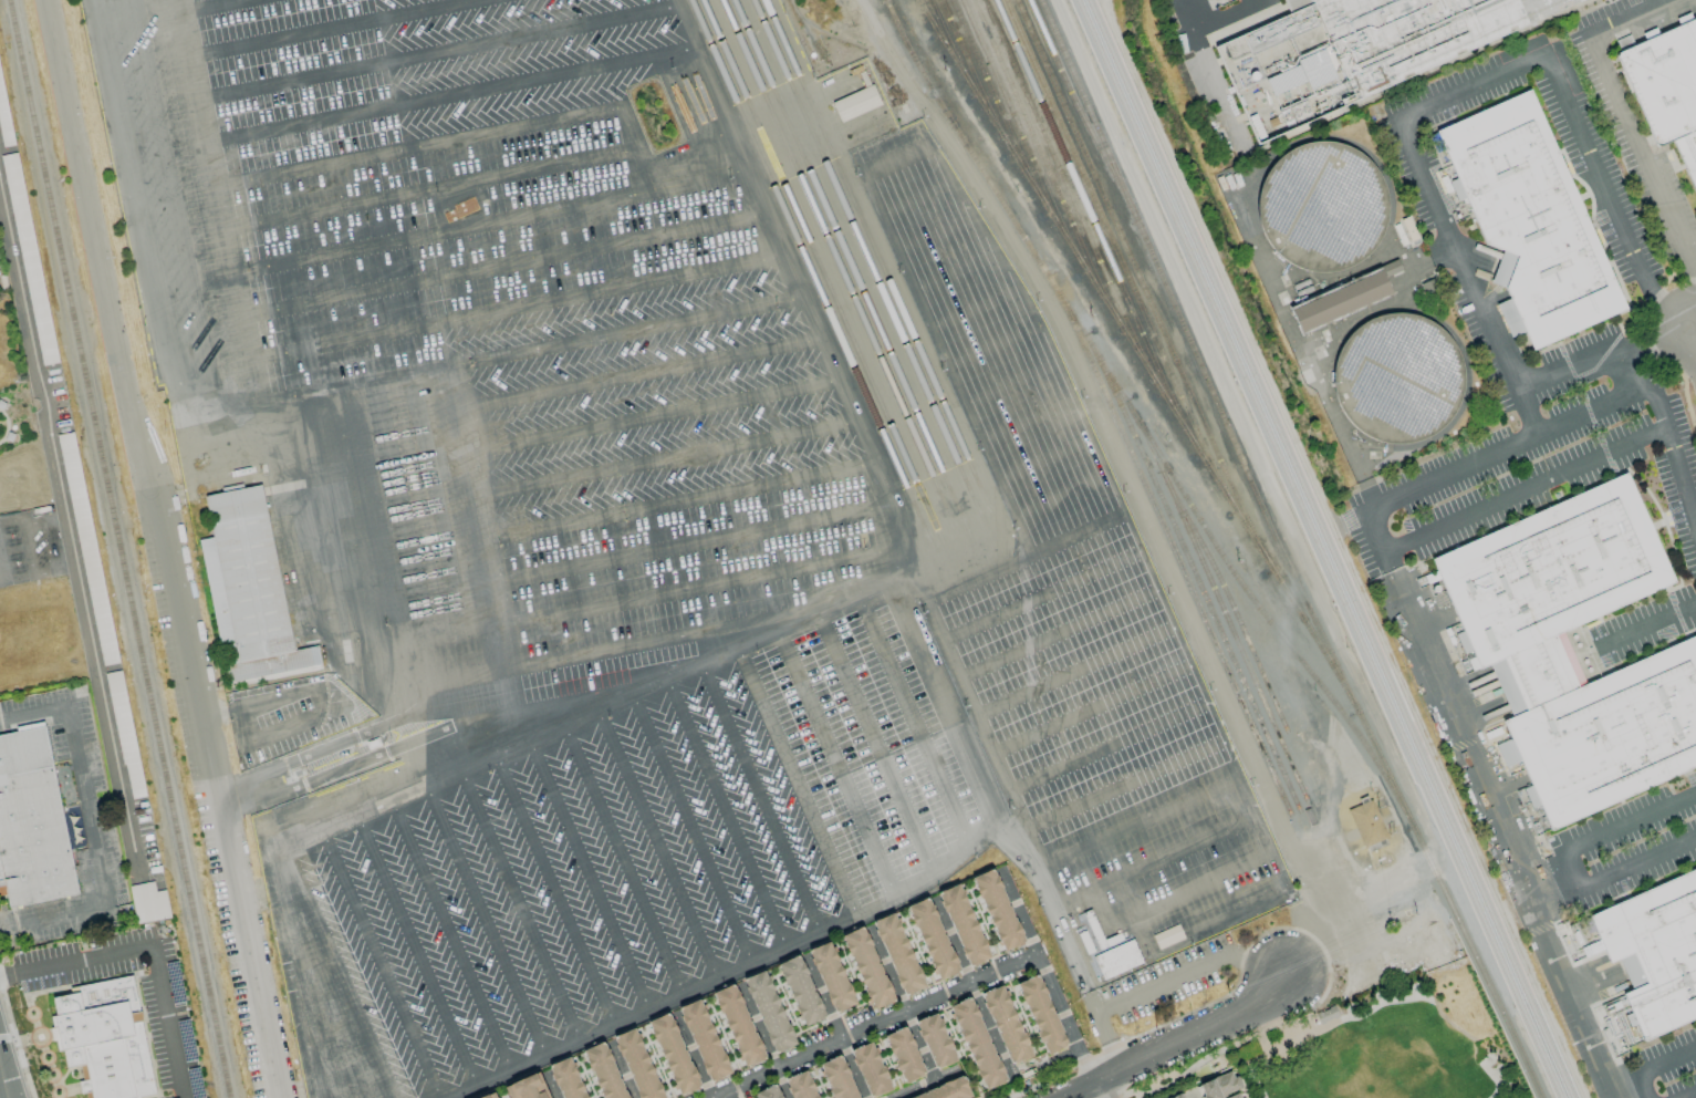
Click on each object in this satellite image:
railway: (885, 0)
road: (101, 3)
road: (217, 6)
road: (1229, 15)
railway: (928, 17)
road: (337, 28)
railway: (950, 48)
road: (434, 51)
building: (1354, 51)
road: (1206, 53)
railway: (972, 76)
road: (693, 80)
building: (1668, 81)
road: (1471, 86)
road: (447, 95)
building: (855, 103)
railway: (981, 105)
railway: (1089, 110)
railway: (1078, 112)
building: (3, 124)
road: (1635, 135)
railway: (1020, 136)
road: (424, 146)
road: (896, 159)
railway: (1044, 166)
road: (434, 186)
road: (1609, 193)
road: (452, 194)
road: (918, 199)
railway: (1043, 203)
building: (1323, 207)
building: (1530, 219)
road: (3, 220)
railway: (1093, 226)
road: (449, 230)
road: (938, 237)
railway: (868, 239)
railway: (859, 241)
railway: (841, 245)
road: (143, 246)
railway: (830, 248)
railway: (812, 250)
railway: (802, 252)
railway: (1116, 257)
building: (29, 259)
road: (500, 265)
building: (1391, 267)
road: (957, 271)
road: (1466, 277)
railway: (1142, 286)
road: (790, 289)
building: (1340, 301)
road: (977, 307)
road: (516, 309)
road: (1692, 312)
road: (1692, 331)
road: (996, 343)
road: (530, 351)
road: (1301, 355)
road: (948, 362)
road: (454, 365)
railway: (1148, 367)
road: (1562, 369)
road: (1620, 373)
road: (638, 374)
building: (1398, 380)
road: (1012, 382)
road: (266, 407)
road: (651, 417)
park: (18, 418)
road: (1030, 421)
railway: (1137, 421)
road: (7, 426)
road: (1507, 449)
road: (1676, 452)
road: (1045, 457)
road: (664, 459)
road: (1526, 494)
road: (1063, 496)
road: (677, 500)
building: (0, 503)
road: (67, 525)
road: (1375, 536)
parking lot: (627, 539)
railway: (1280, 540)
railway: (1169, 542)
road: (686, 543)
building: (87, 548)
railway: (118, 548)
road: (166, 548)
railway: (1319, 548)
railway: (1329, 549)
road: (31, 553)
road: (1146, 557)
road: (1019, 560)
railway: (1209, 561)
railway: (1192, 571)
road: (0, 581)
road: (694, 589)
building: (247, 592)
road: (1037, 597)
road: (1655, 619)
road: (455, 624)
railway: (1231, 633)
road: (1054, 635)
road: (665, 640)
road: (934, 652)
building: (1521, 652)
road: (891, 672)
road: (1072, 673)
road: (412, 680)
road: (462, 680)
road: (851, 690)
road: (314, 698)
road: (589, 704)
road: (812, 706)
road: (1089, 709)
road: (517, 711)
road: (770, 727)
building: (125, 735)
road: (958, 737)
road: (1105, 749)
road: (295, 759)
road: (305, 785)
road: (1124, 786)
road: (244, 791)
road: (756, 798)
road: (715, 816)
road: (1630, 820)
building: (1366, 821)
building: (32, 823)
road: (1141, 823)
road: (91, 827)
road: (674, 833)
road: (281, 837)
road: (1509, 843)
road: (634, 850)
road: (1157, 861)
road: (1638, 864)
road: (1034, 866)
road: (593, 869)
road: (1573, 870)
road: (554, 885)
road: (1206, 885)
building: (148, 903)
road: (513, 903)
building: (997, 910)
road: (1350, 910)
road: (475, 921)
building: (963, 924)
road: (1142, 934)
building: (1167, 936)
road: (434, 939)
building: (933, 939)
road: (946, 942)
road: (152, 946)
building: (897, 954)
building: (1650, 954)
road: (391, 956)
building: (1116, 959)
road: (350, 964)
building: (866, 967)
road: (299, 971)
road: (880, 973)
building: (831, 976)
road: (1039, 978)
railway: (1482, 978)
building: (174, 982)
road: (324, 984)
building: (800, 991)
road: (1090, 993)
road: (660, 1005)
building: (769, 1012)
building: (1041, 1014)
building: (1006, 1024)
building: (738, 1025)
road: (832, 1027)
road: (872, 1027)
road: (990, 1036)
building: (104, 1038)
building: (186, 1039)
building: (704, 1040)
road: (760, 1040)
building: (935, 1040)
road: (1180, 1042)
building: (977, 1043)
park: (1396, 1044)
road: (917, 1048)
building: (673, 1054)
building: (904, 1054)
road: (689, 1056)
road: (1666, 1059)
building: (637, 1065)
building: (870, 1069)
road: (618, 1070)
building: (604, 1071)
building: (568, 1078)
building: (837, 1078)
road: (4, 1079)
building: (195, 1083)
road: (548, 1085)
building: (803, 1085)
road: (929, 1085)
road: (1642, 1086)
building: (529, 1087)
building: (1220, 1087)
building: (947, 1090)
road: (1103, 1090)
building: (770, 1092)
building: (490, 1095)
building: (1178, 1096)
road: (1188, 1096)
road: (1692, 1096)

